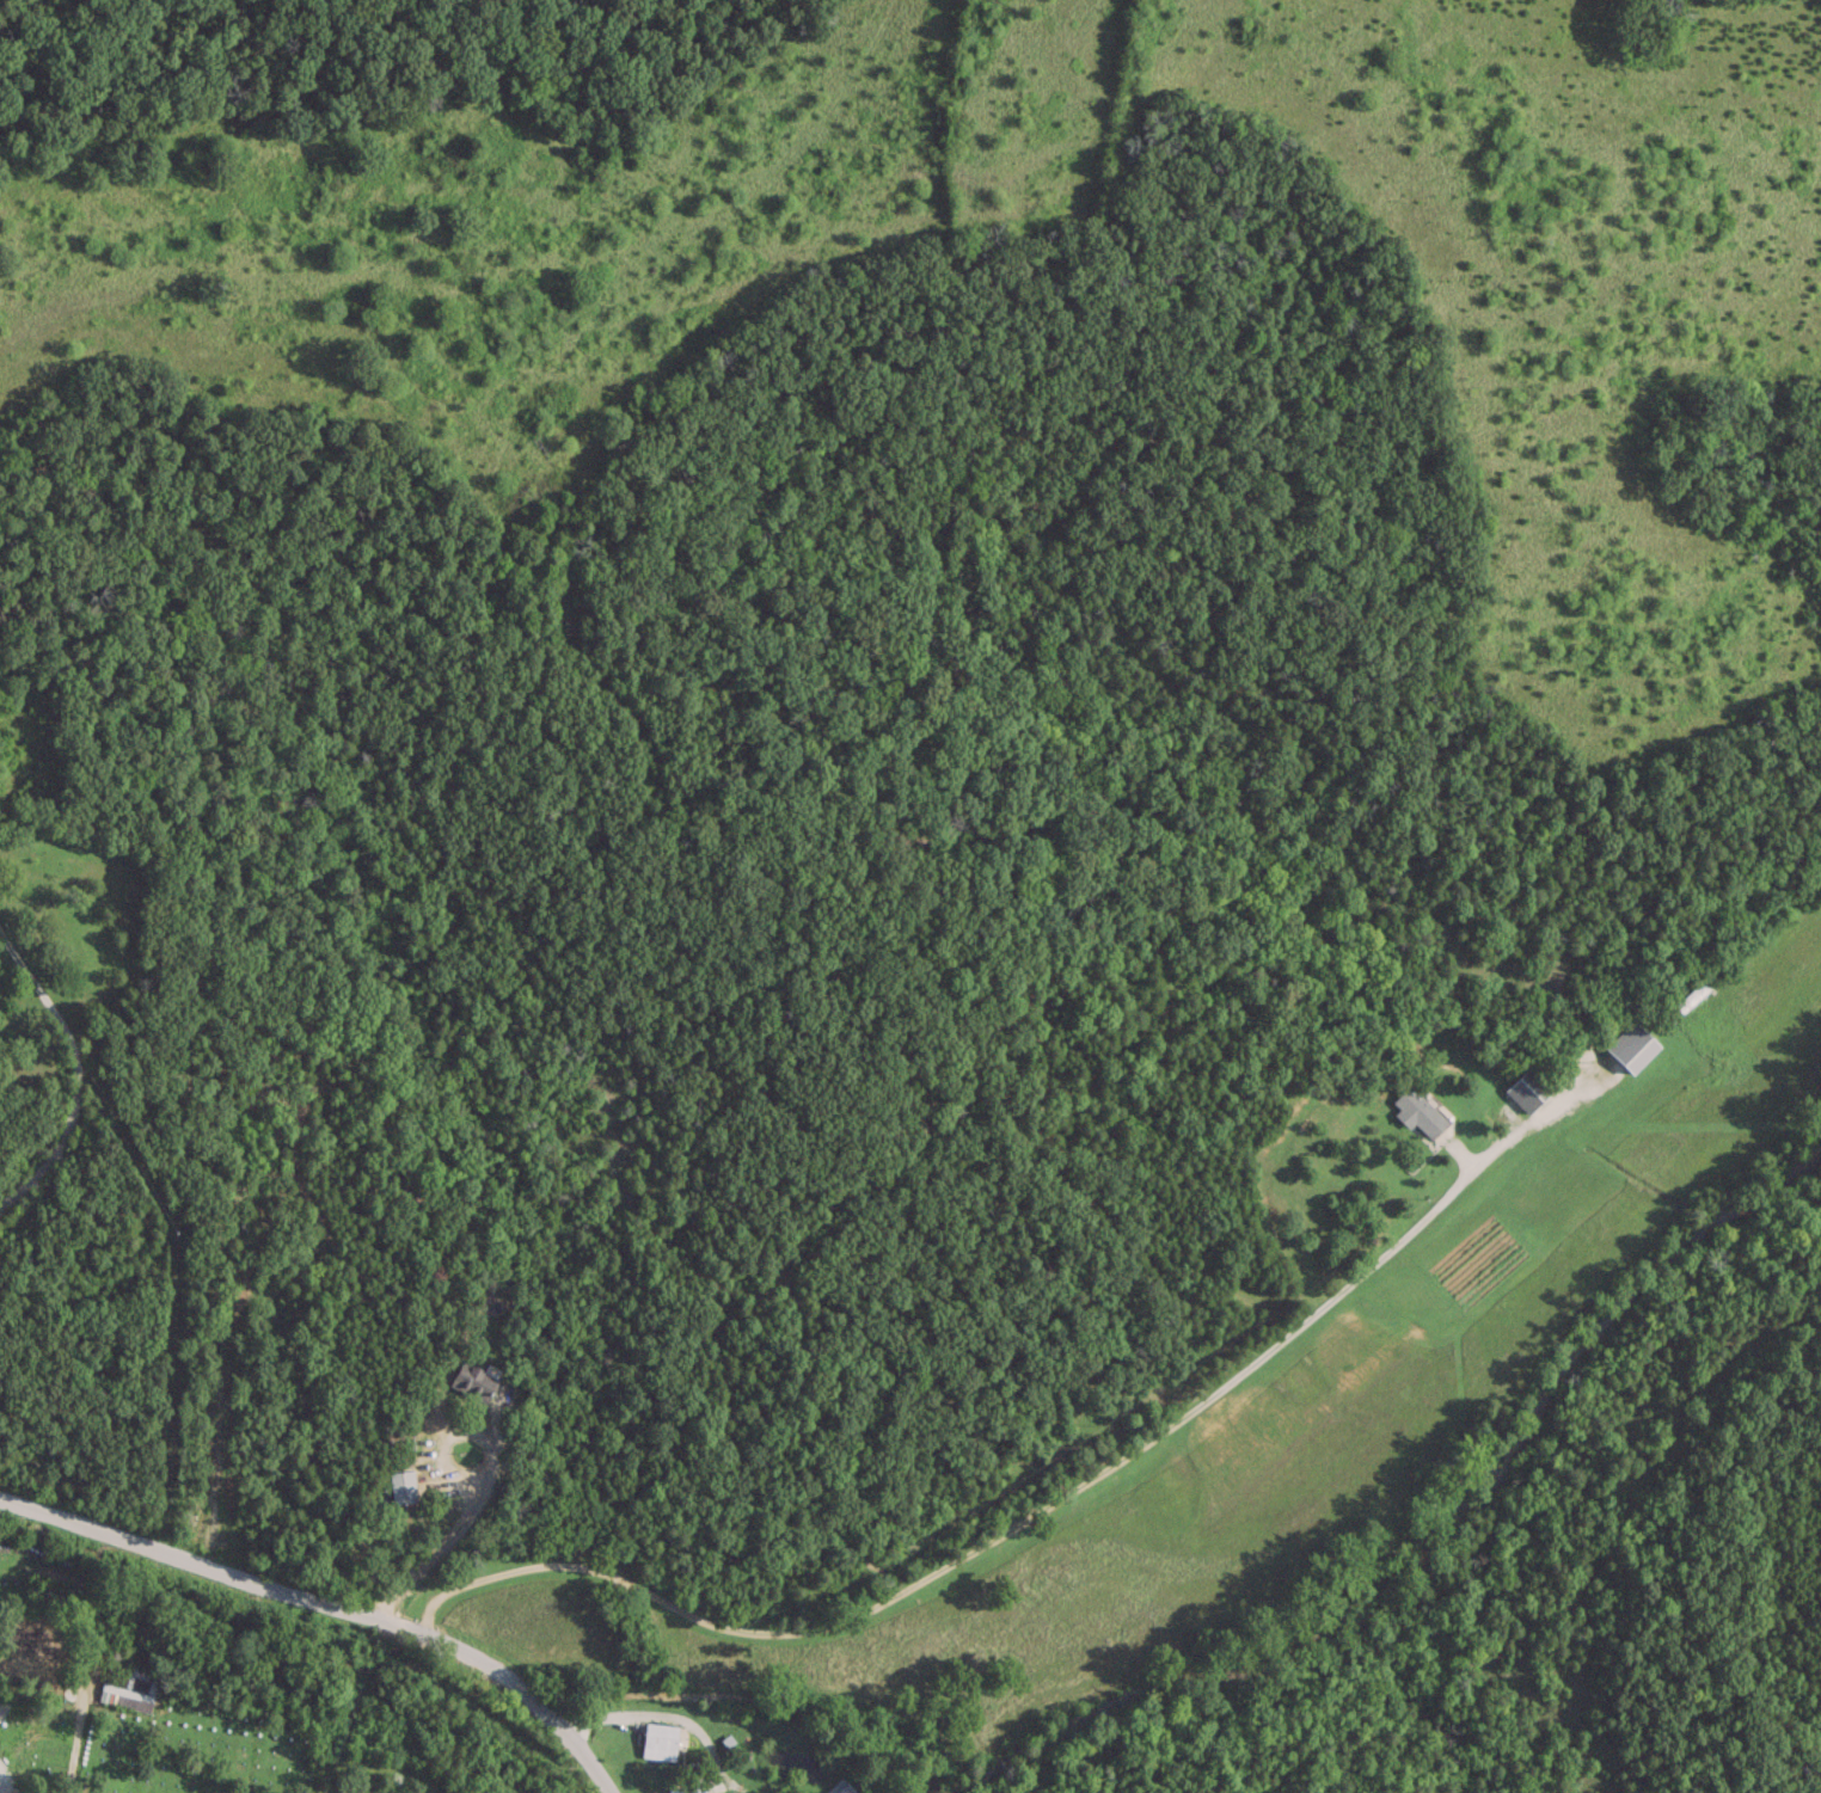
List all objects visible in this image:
building: (1627, 1048)
road: (72, 1068)
building: (1420, 1110)
building: (474, 1378)
building: (403, 1485)
road: (1048, 1503)
road: (456, 1531)
road: (329, 1604)
building: (660, 1739)
building: (842, 1786)
building: (676, 1788)
road: (5, 1789)

